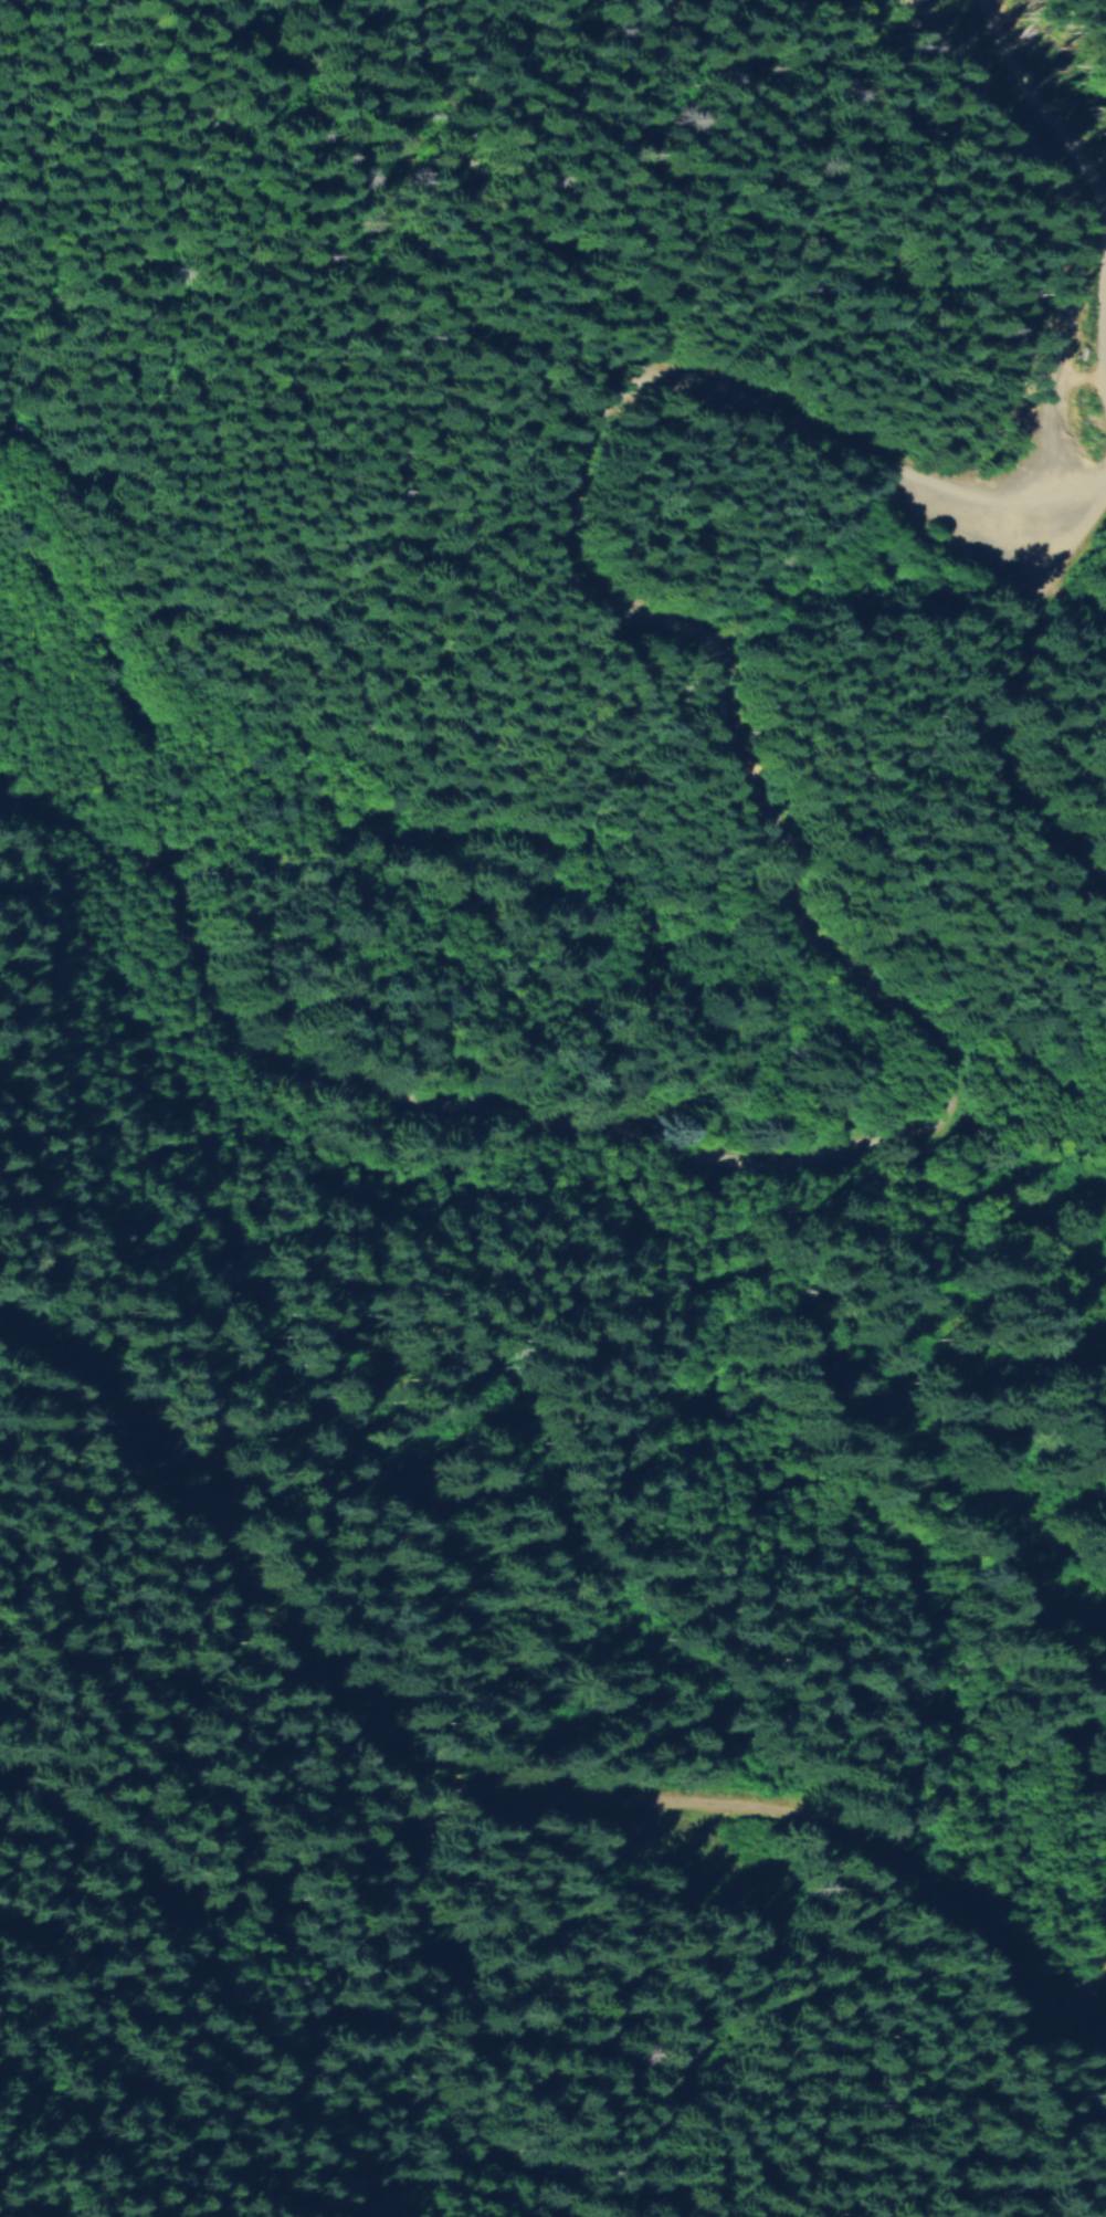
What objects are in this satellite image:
road: (969, 210)
road: (1020, 708)
road: (929, 1017)
road: (502, 1783)

